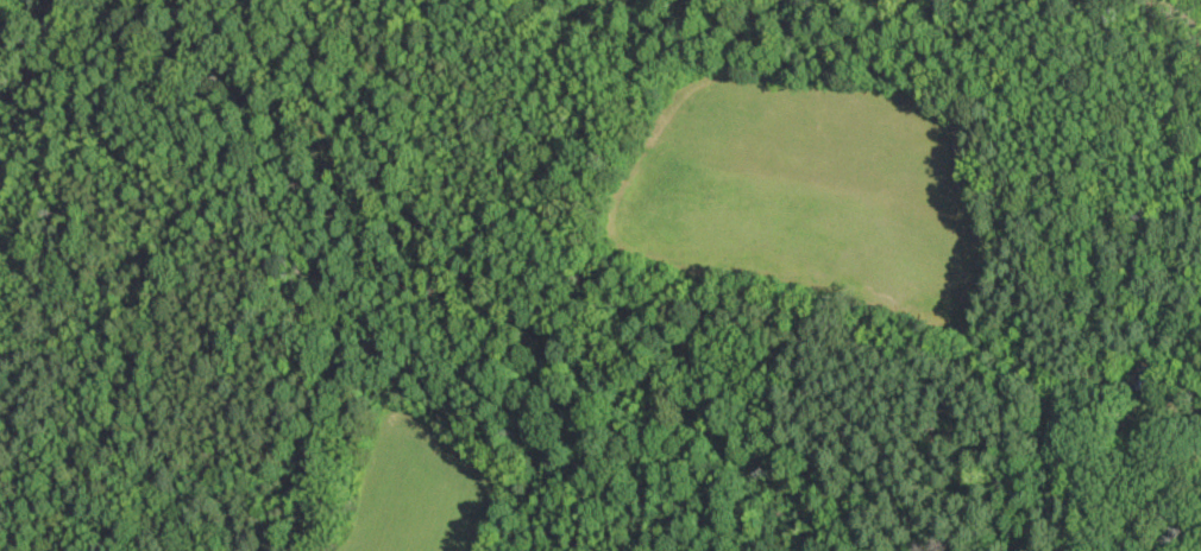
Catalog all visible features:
building: (1146, 374)
building: (1193, 436)

